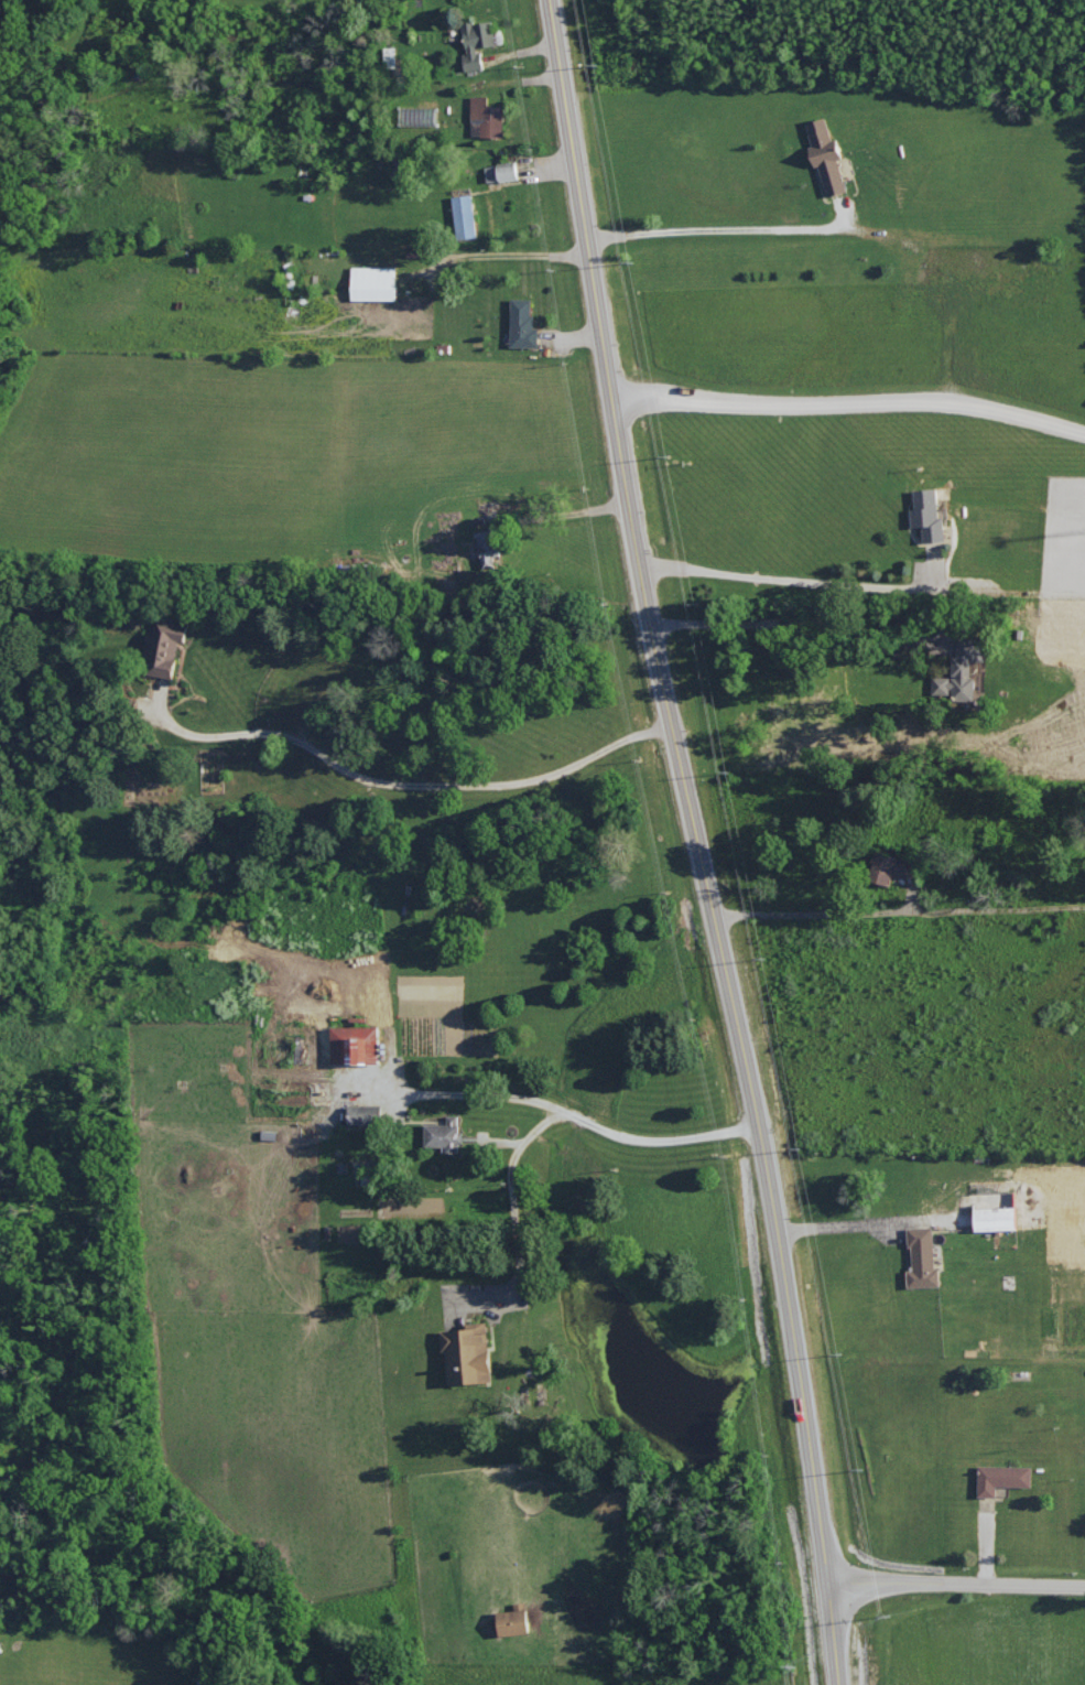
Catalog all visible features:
building: (476, 42)
building: (485, 117)
building: (824, 155)
building: (500, 171)
building: (464, 215)
road: (717, 227)
road: (529, 256)
building: (372, 282)
building: (521, 323)
road: (849, 403)
road: (567, 512)
building: (926, 514)
building: (487, 549)
road: (861, 585)
road: (786, 620)
building: (163, 647)
building: (959, 670)
road: (400, 784)
road: (697, 841)
building: (890, 867)
road: (896, 915)
building: (354, 1043)
road: (558, 1106)
building: (358, 1113)
building: (443, 1133)
road: (516, 1196)
building: (994, 1209)
road: (855, 1224)
building: (921, 1256)
building: (465, 1352)
building: (1001, 1477)
road: (956, 1584)
building: (511, 1619)

